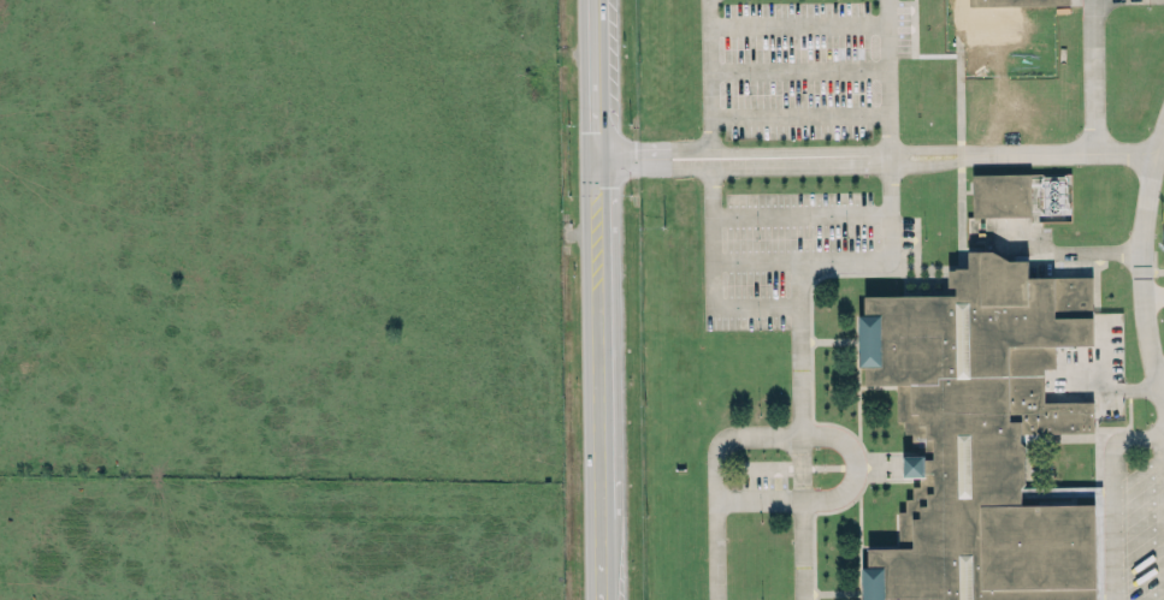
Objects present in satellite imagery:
building: (994, 4)
road: (796, 20)
road: (796, 70)
road: (1089, 75)
road: (885, 76)
road: (708, 77)
road: (797, 114)
road: (876, 152)
road: (799, 218)
road: (711, 251)
road: (1141, 266)
road: (1152, 269)
road: (1153, 292)
road: (599, 299)
road: (735, 307)
road: (799, 374)
road: (1159, 378)
building: (980, 434)
road: (829, 494)
road: (1112, 495)
road: (802, 516)

